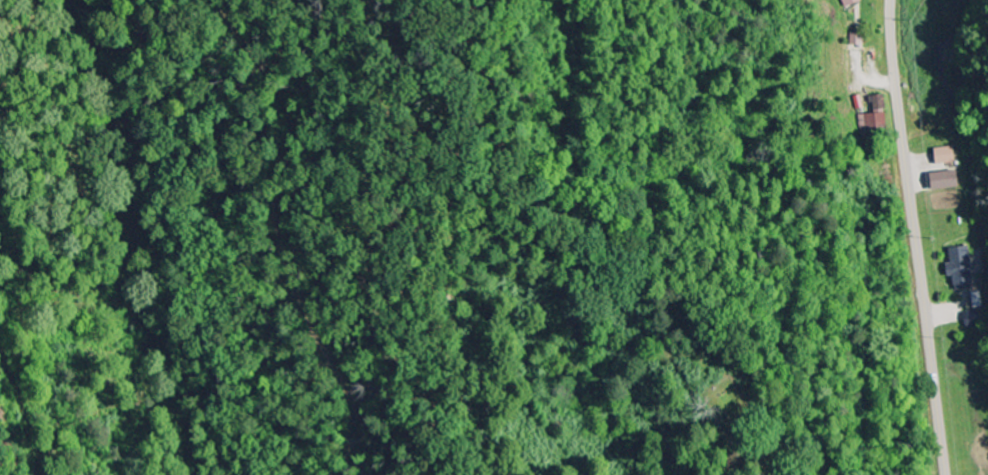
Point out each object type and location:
building: (851, 3)
building: (861, 103)
building: (877, 115)
building: (948, 157)
building: (949, 182)
road: (915, 237)
building: (963, 268)
building: (978, 300)
building: (974, 319)

